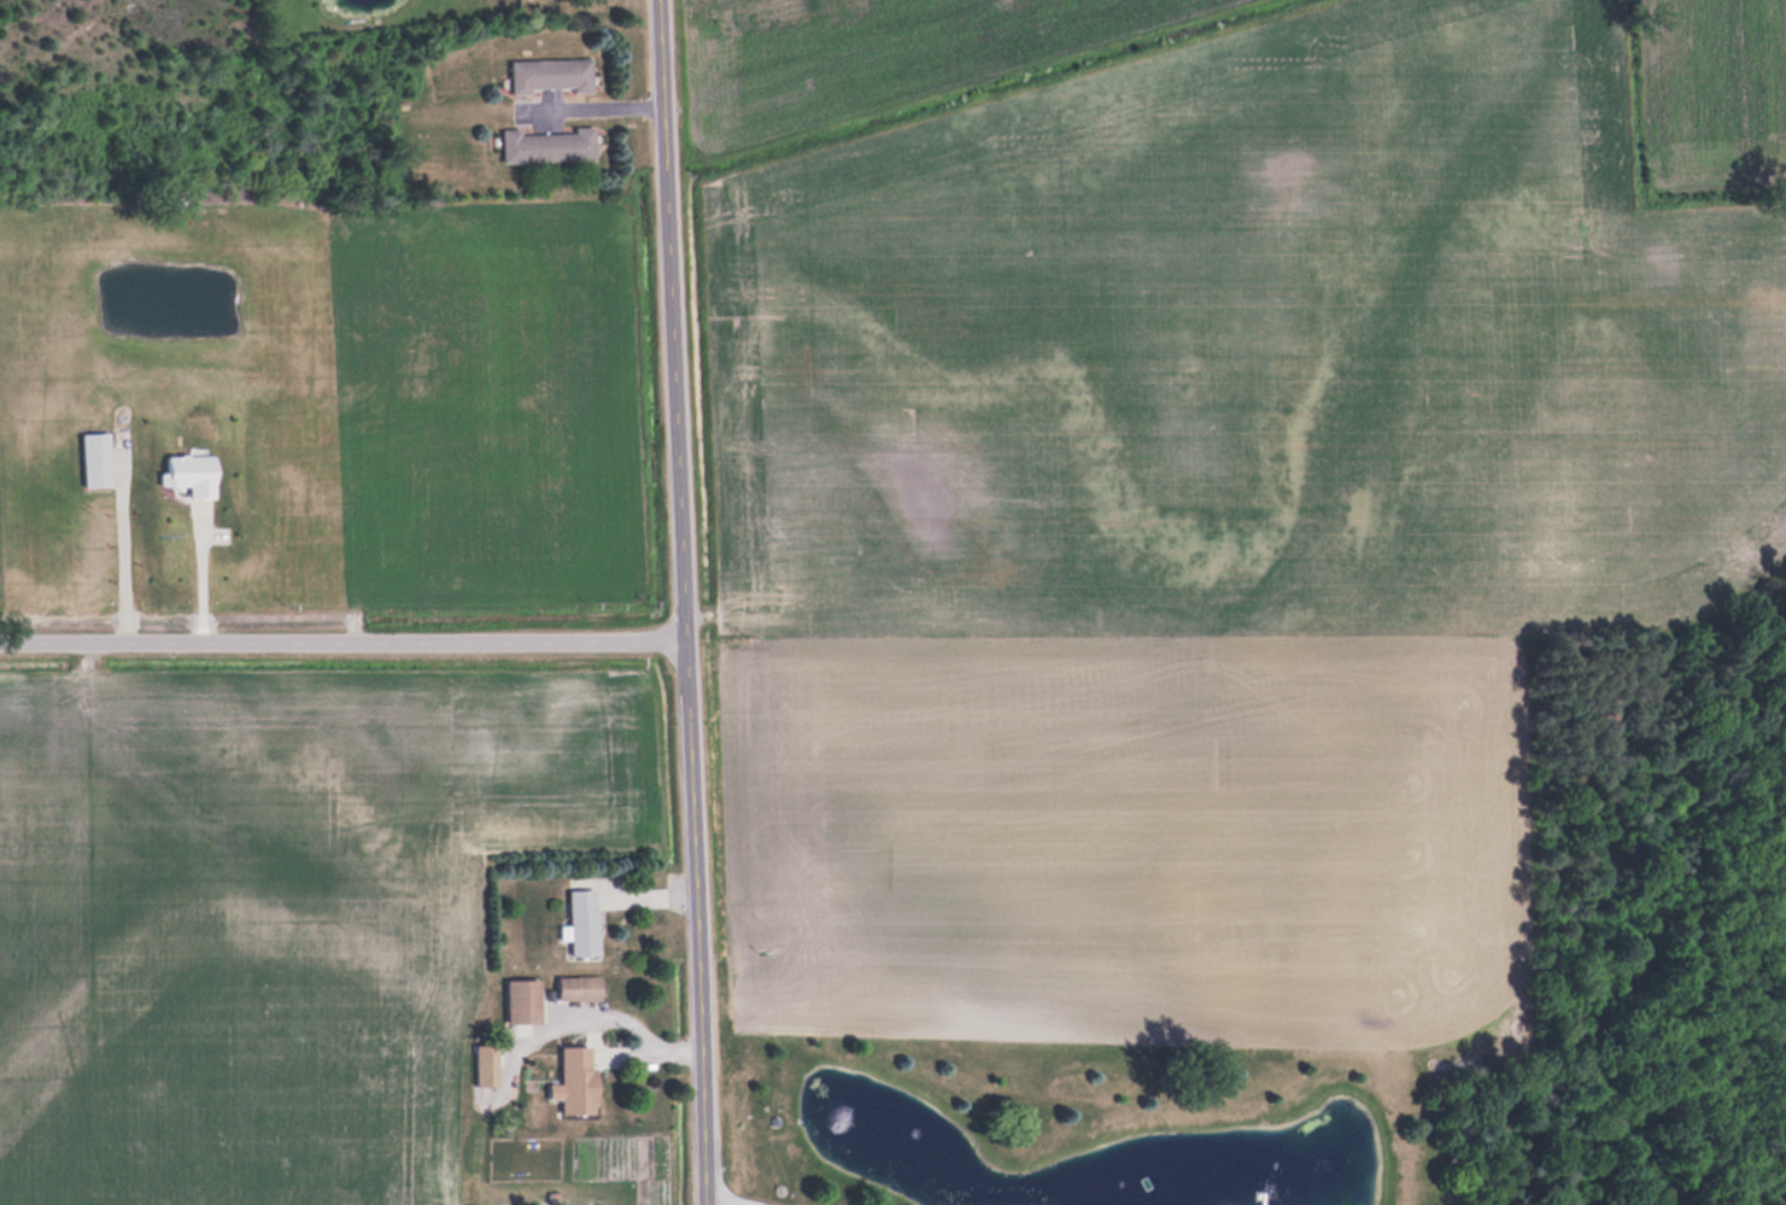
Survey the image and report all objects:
building: (552, 76)
building: (549, 146)
building: (98, 457)
road: (129, 560)
road: (684, 599)
road: (342, 648)
building: (584, 920)
building: (580, 987)
building: (525, 1000)
building: (487, 1064)
building: (579, 1078)
road: (742, 1200)
road: (705, 1203)

